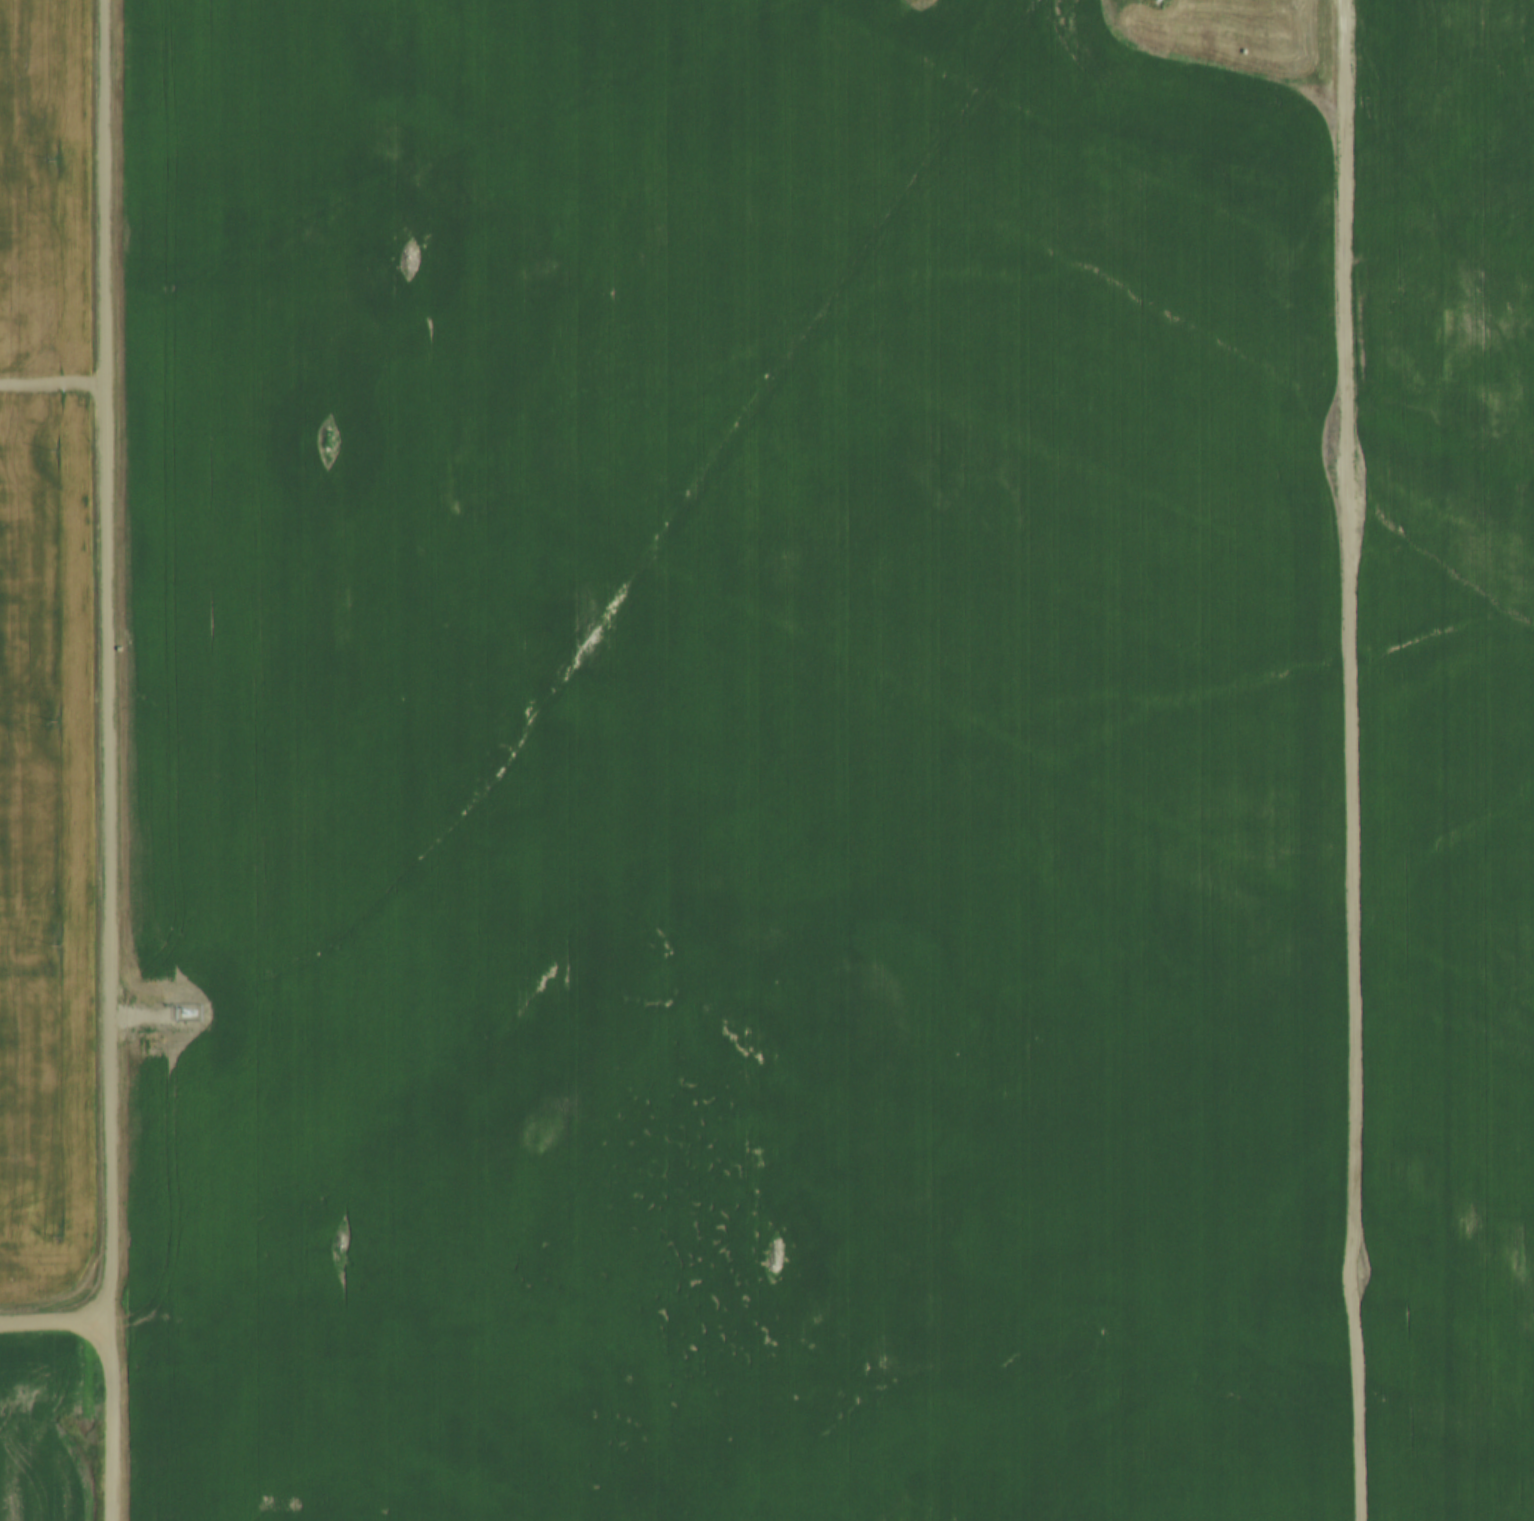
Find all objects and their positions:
road: (107, 659)
road: (55, 1321)
road: (110, 1420)

